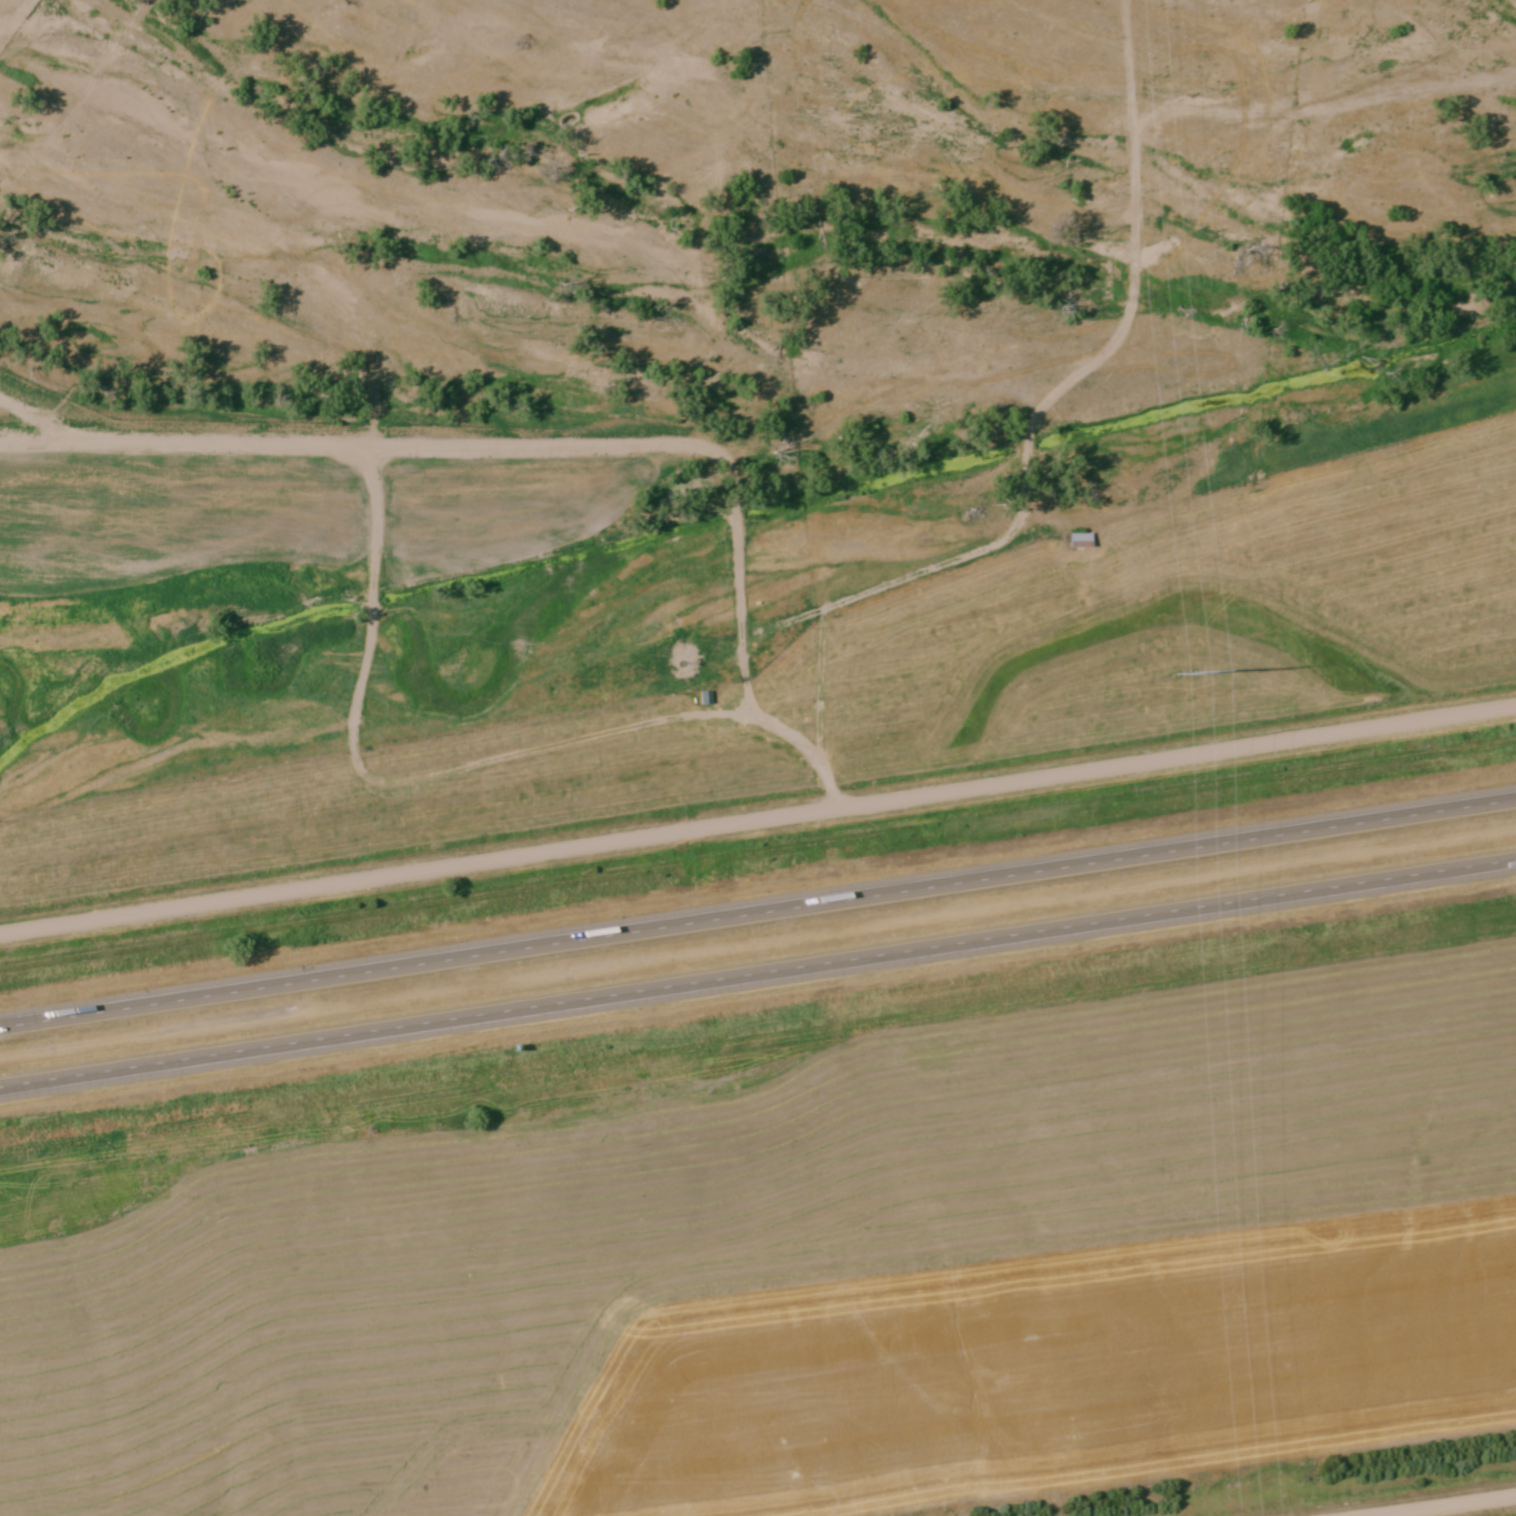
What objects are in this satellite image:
building: (1081, 541)
power tower: (1185, 673)
building: (706, 698)
road: (757, 819)
road: (758, 910)
road: (757, 971)
road: (1425, 1503)

